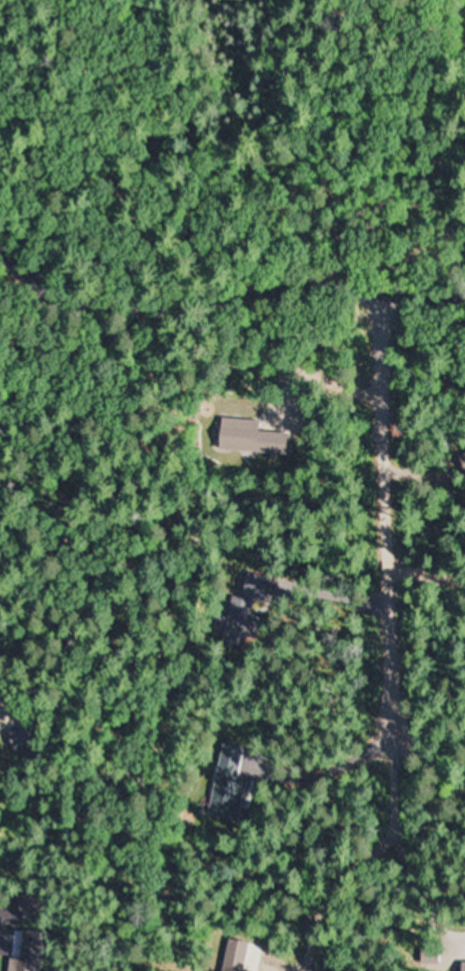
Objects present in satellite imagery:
road: (221, 292)
road: (383, 517)
building: (254, 608)

